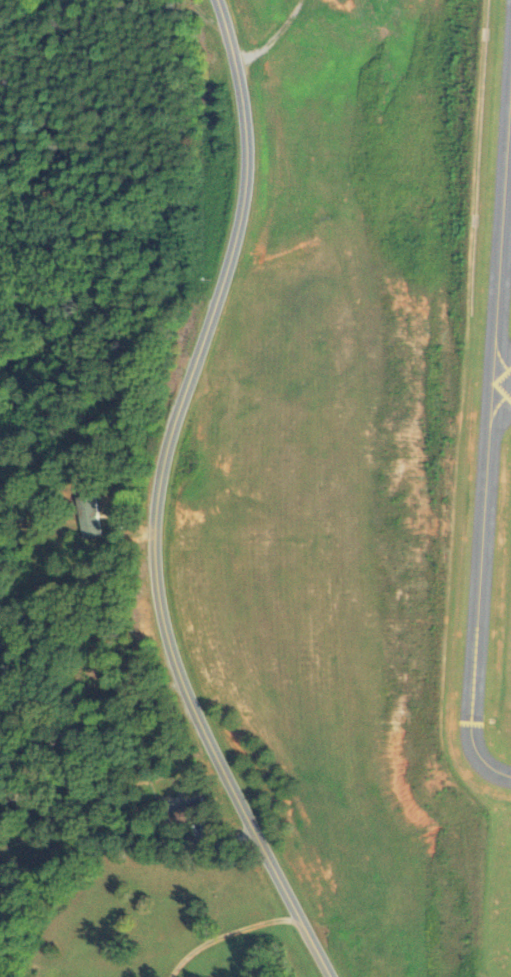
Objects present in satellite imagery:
airport taxiway: (500, 207)
airport taxiway: (500, 383)
road: (153, 499)
building: (85, 515)
airport taxiway: (475, 592)
building: (93, 672)
building: (190, 812)
road: (125, 826)
road: (225, 933)

